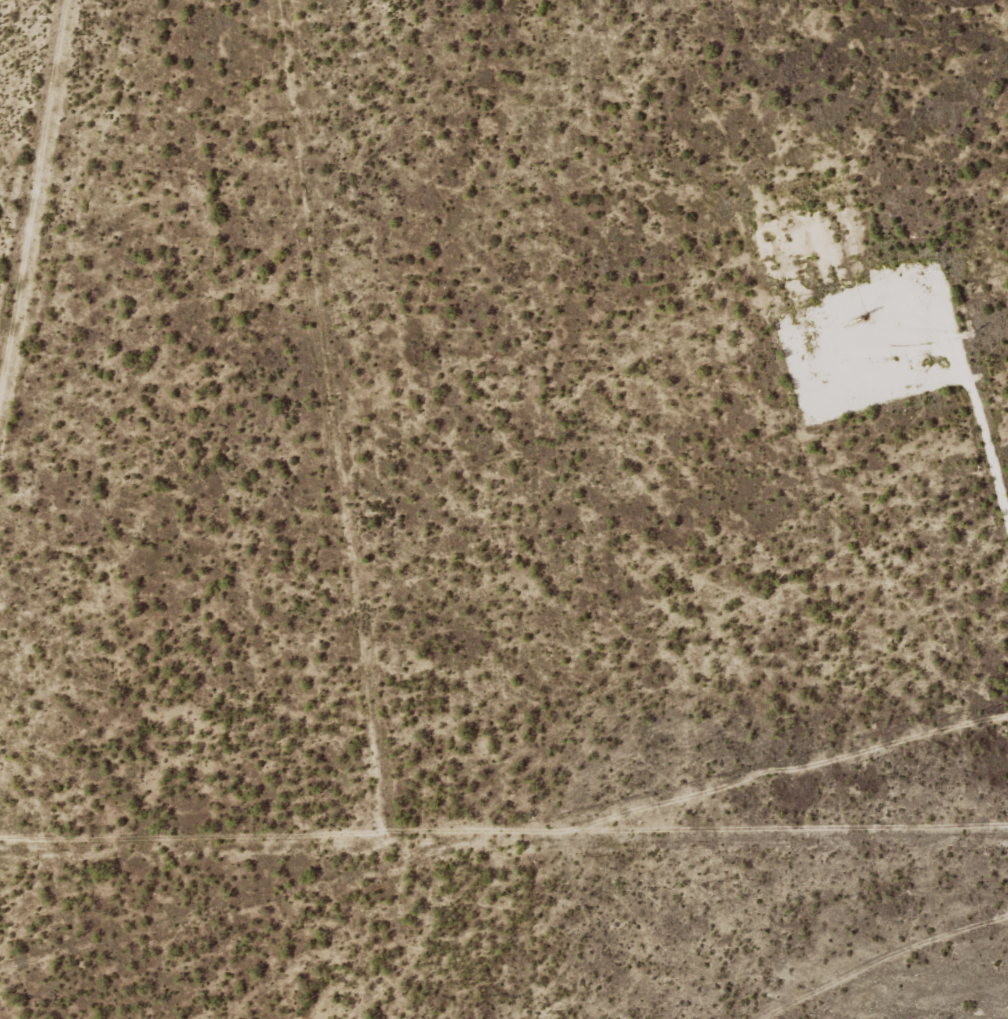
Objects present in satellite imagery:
road: (82, 261)
road: (919, 990)

